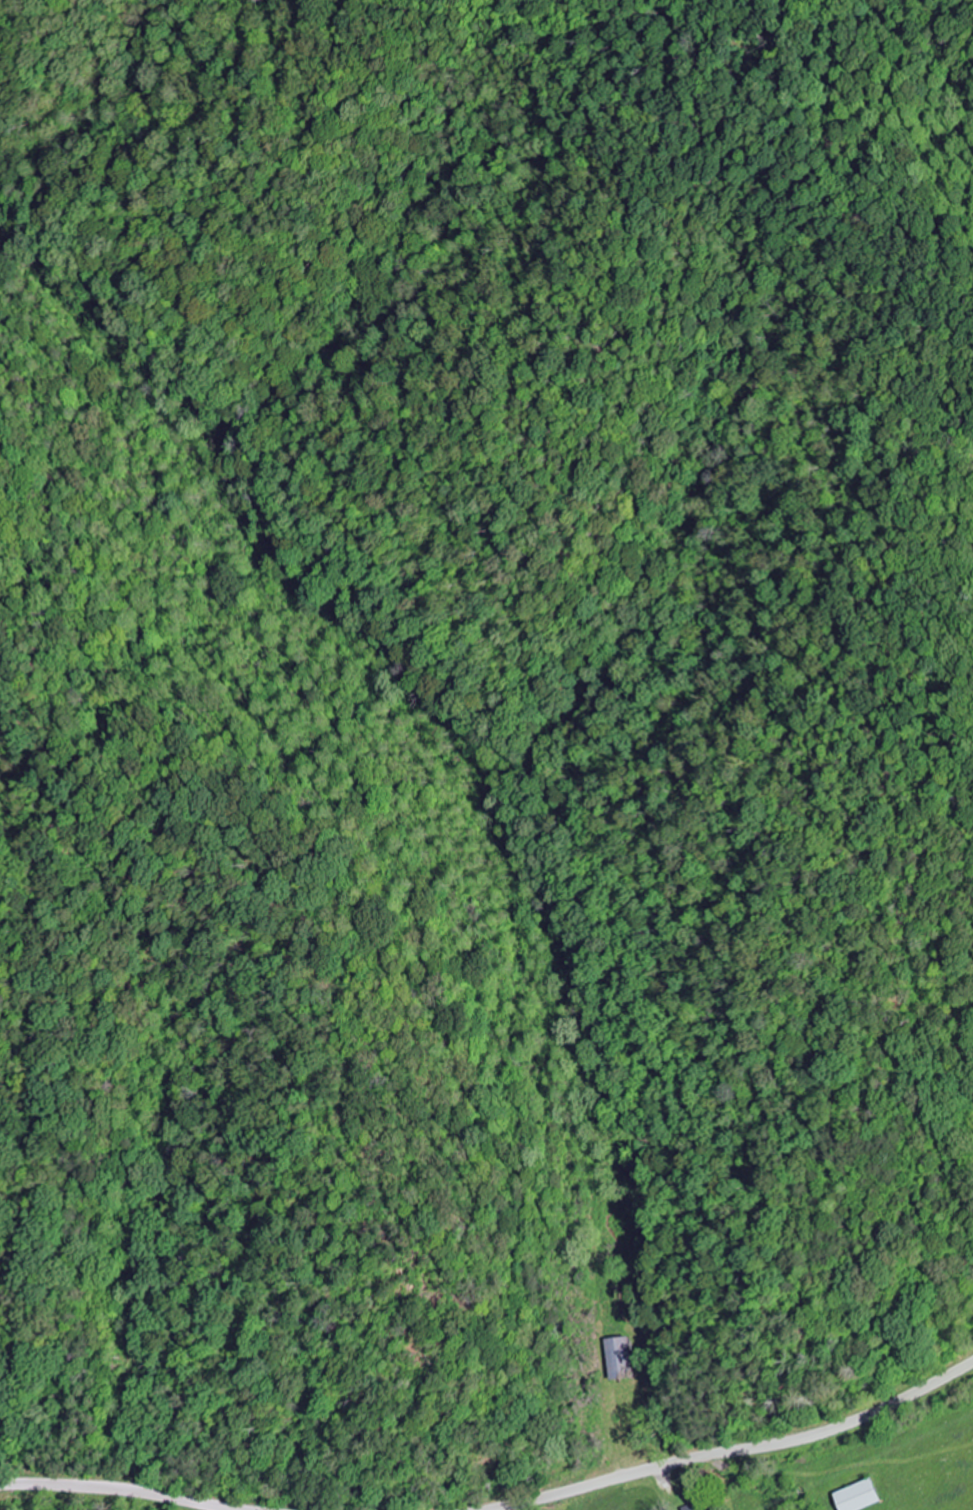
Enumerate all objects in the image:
building: (618, 1357)
road: (737, 1449)
road: (126, 1489)
building: (859, 1497)
road: (159, 1501)
building: (693, 1507)

